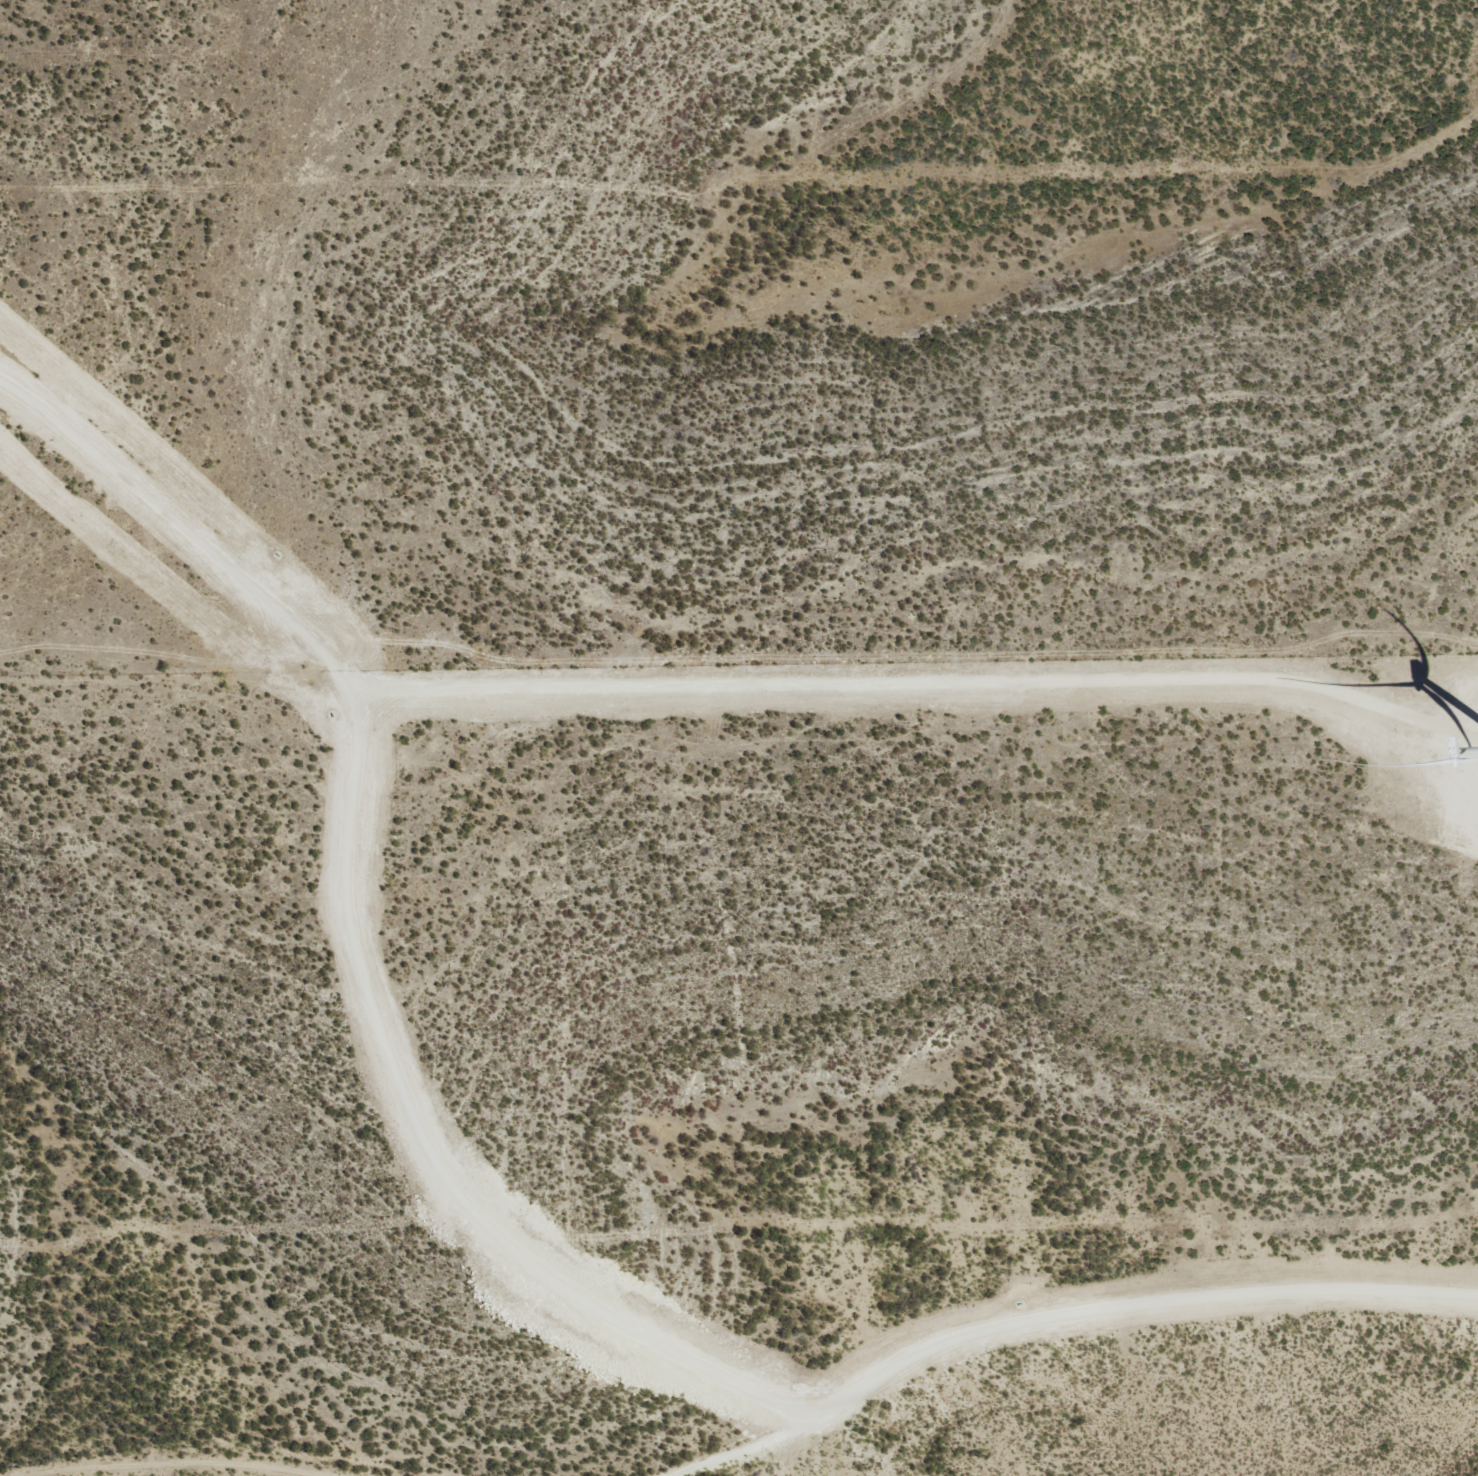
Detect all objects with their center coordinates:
road: (1069, 1307)
road: (198, 1464)

